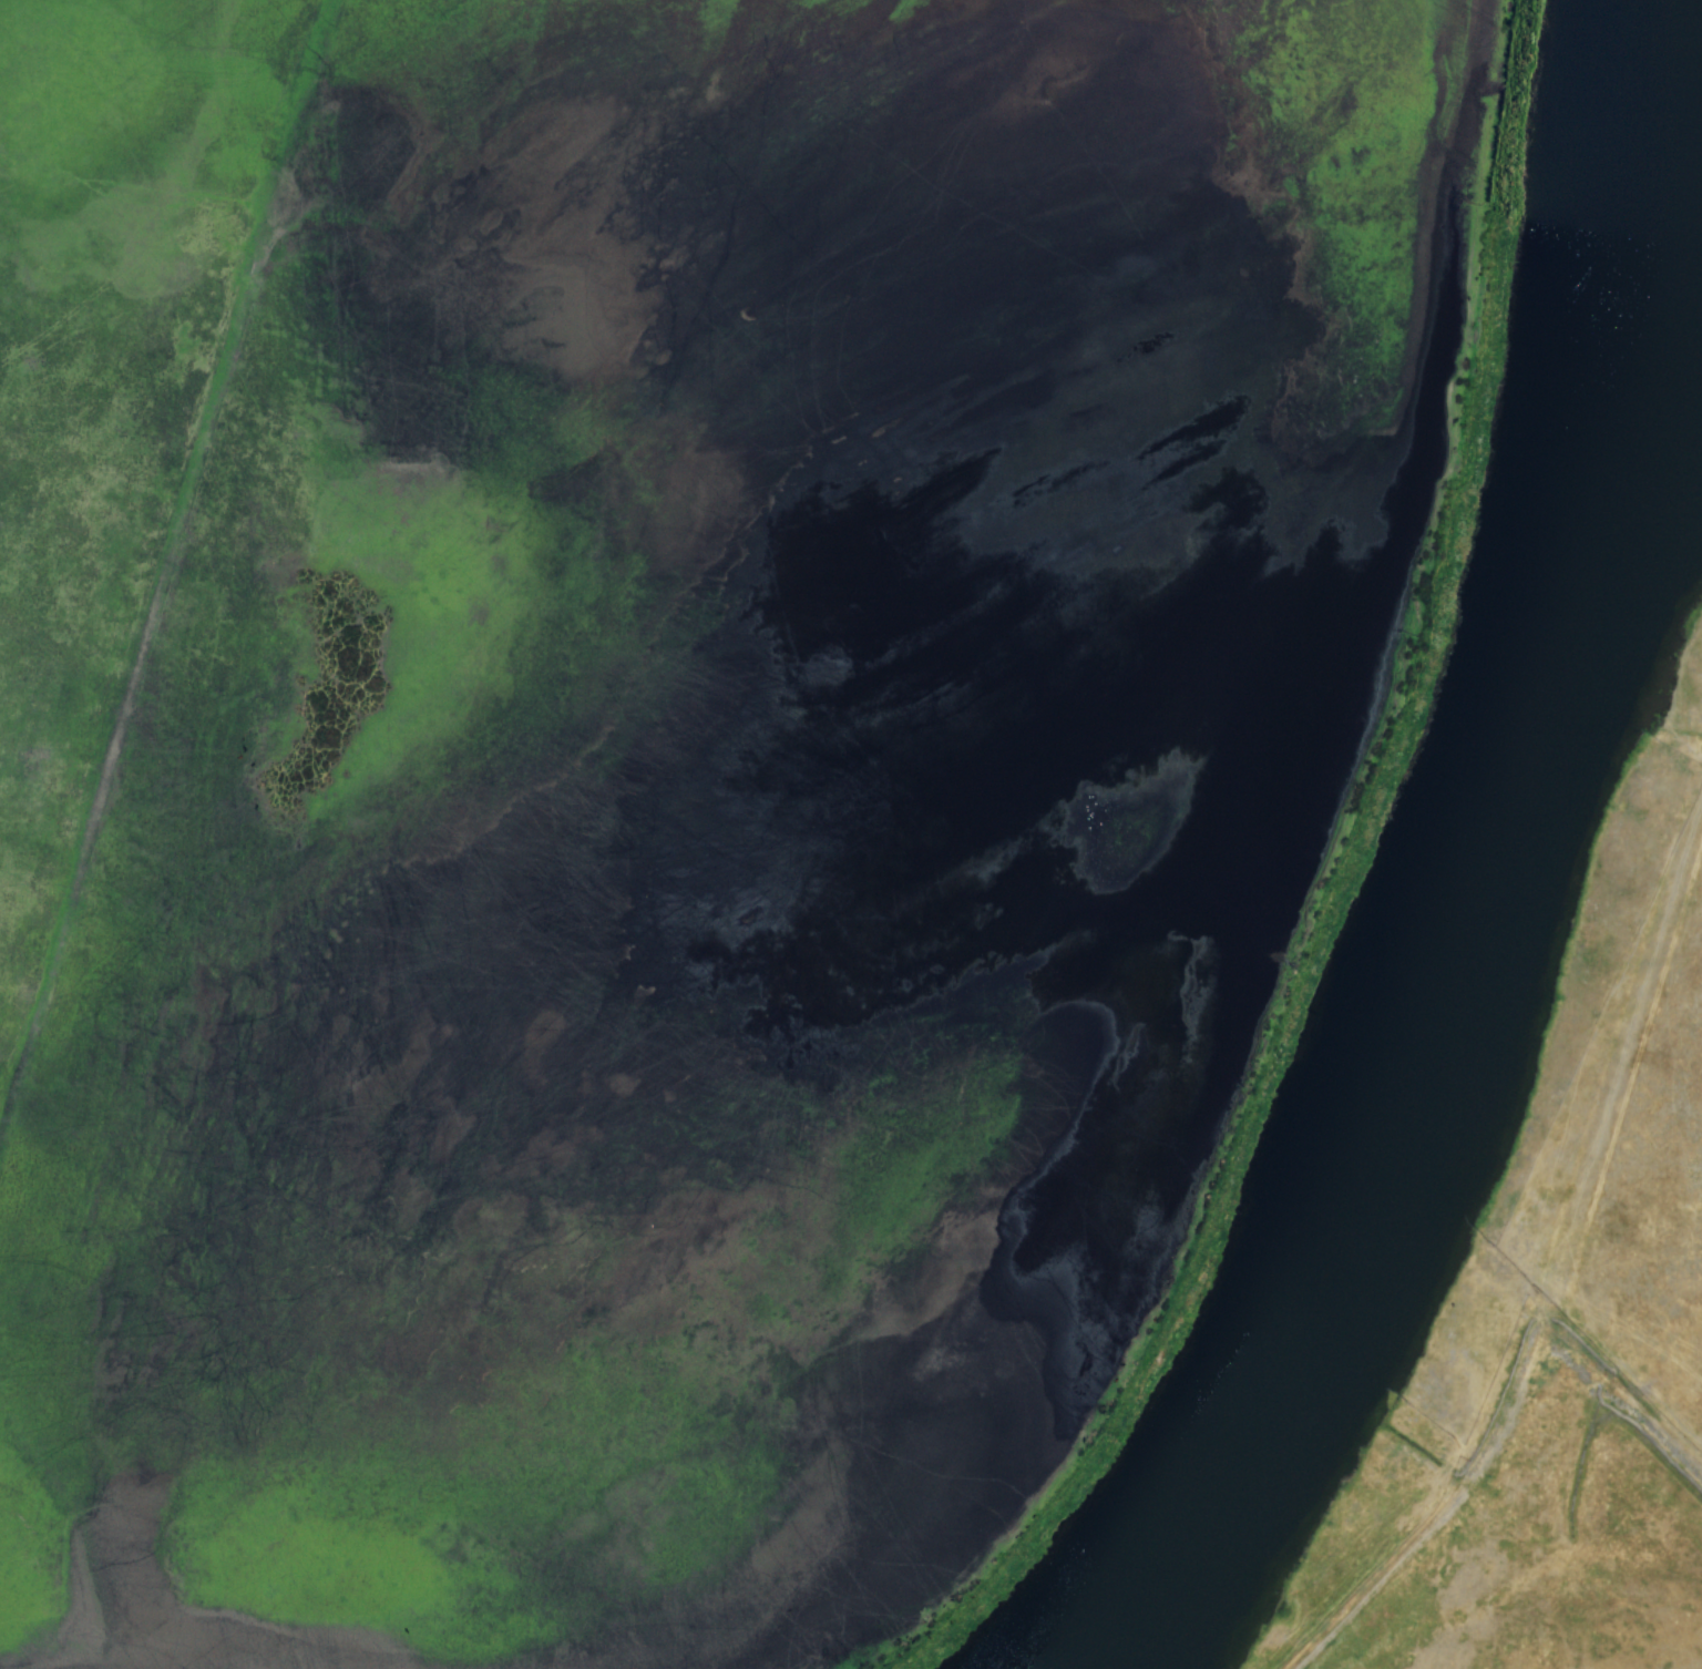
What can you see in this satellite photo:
river: (1648, 345)
road: (1634, 1033)
river: (1363, 1198)

